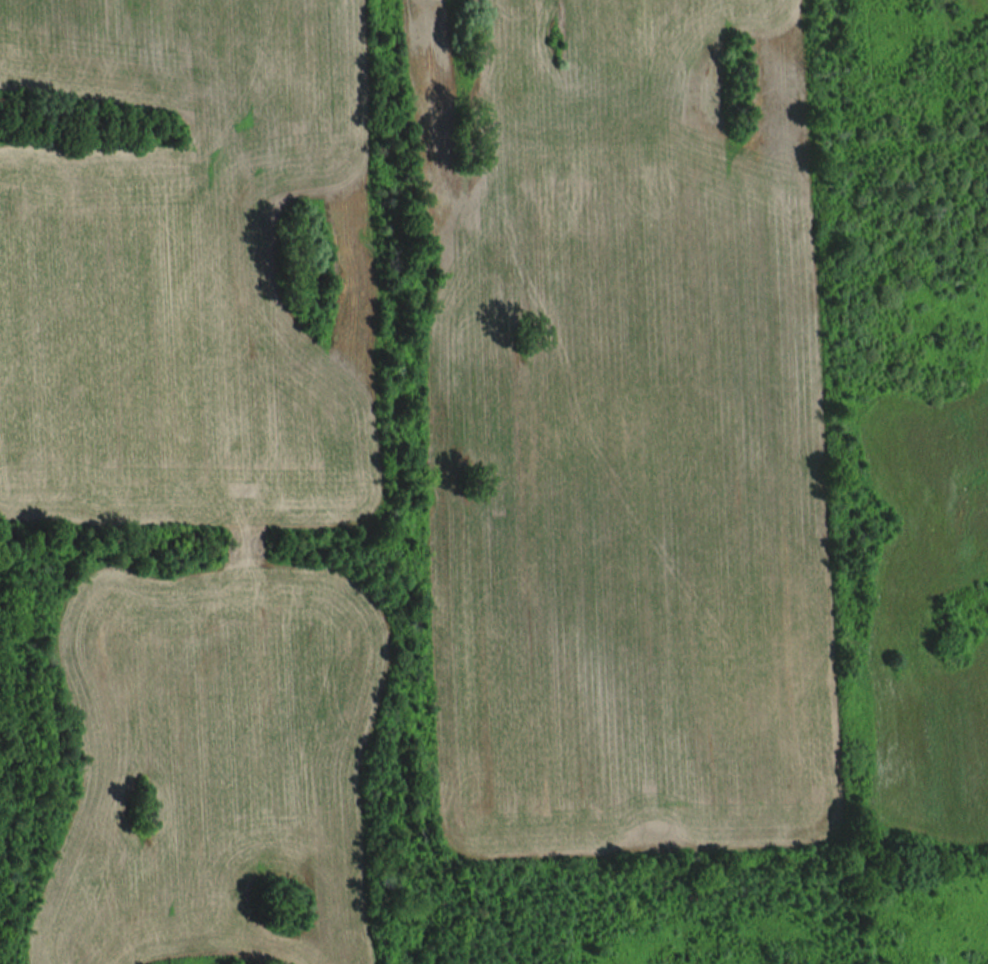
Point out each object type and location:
crop: (192, 271)
crop: (621, 428)
crop: (929, 615)
crop: (215, 763)

